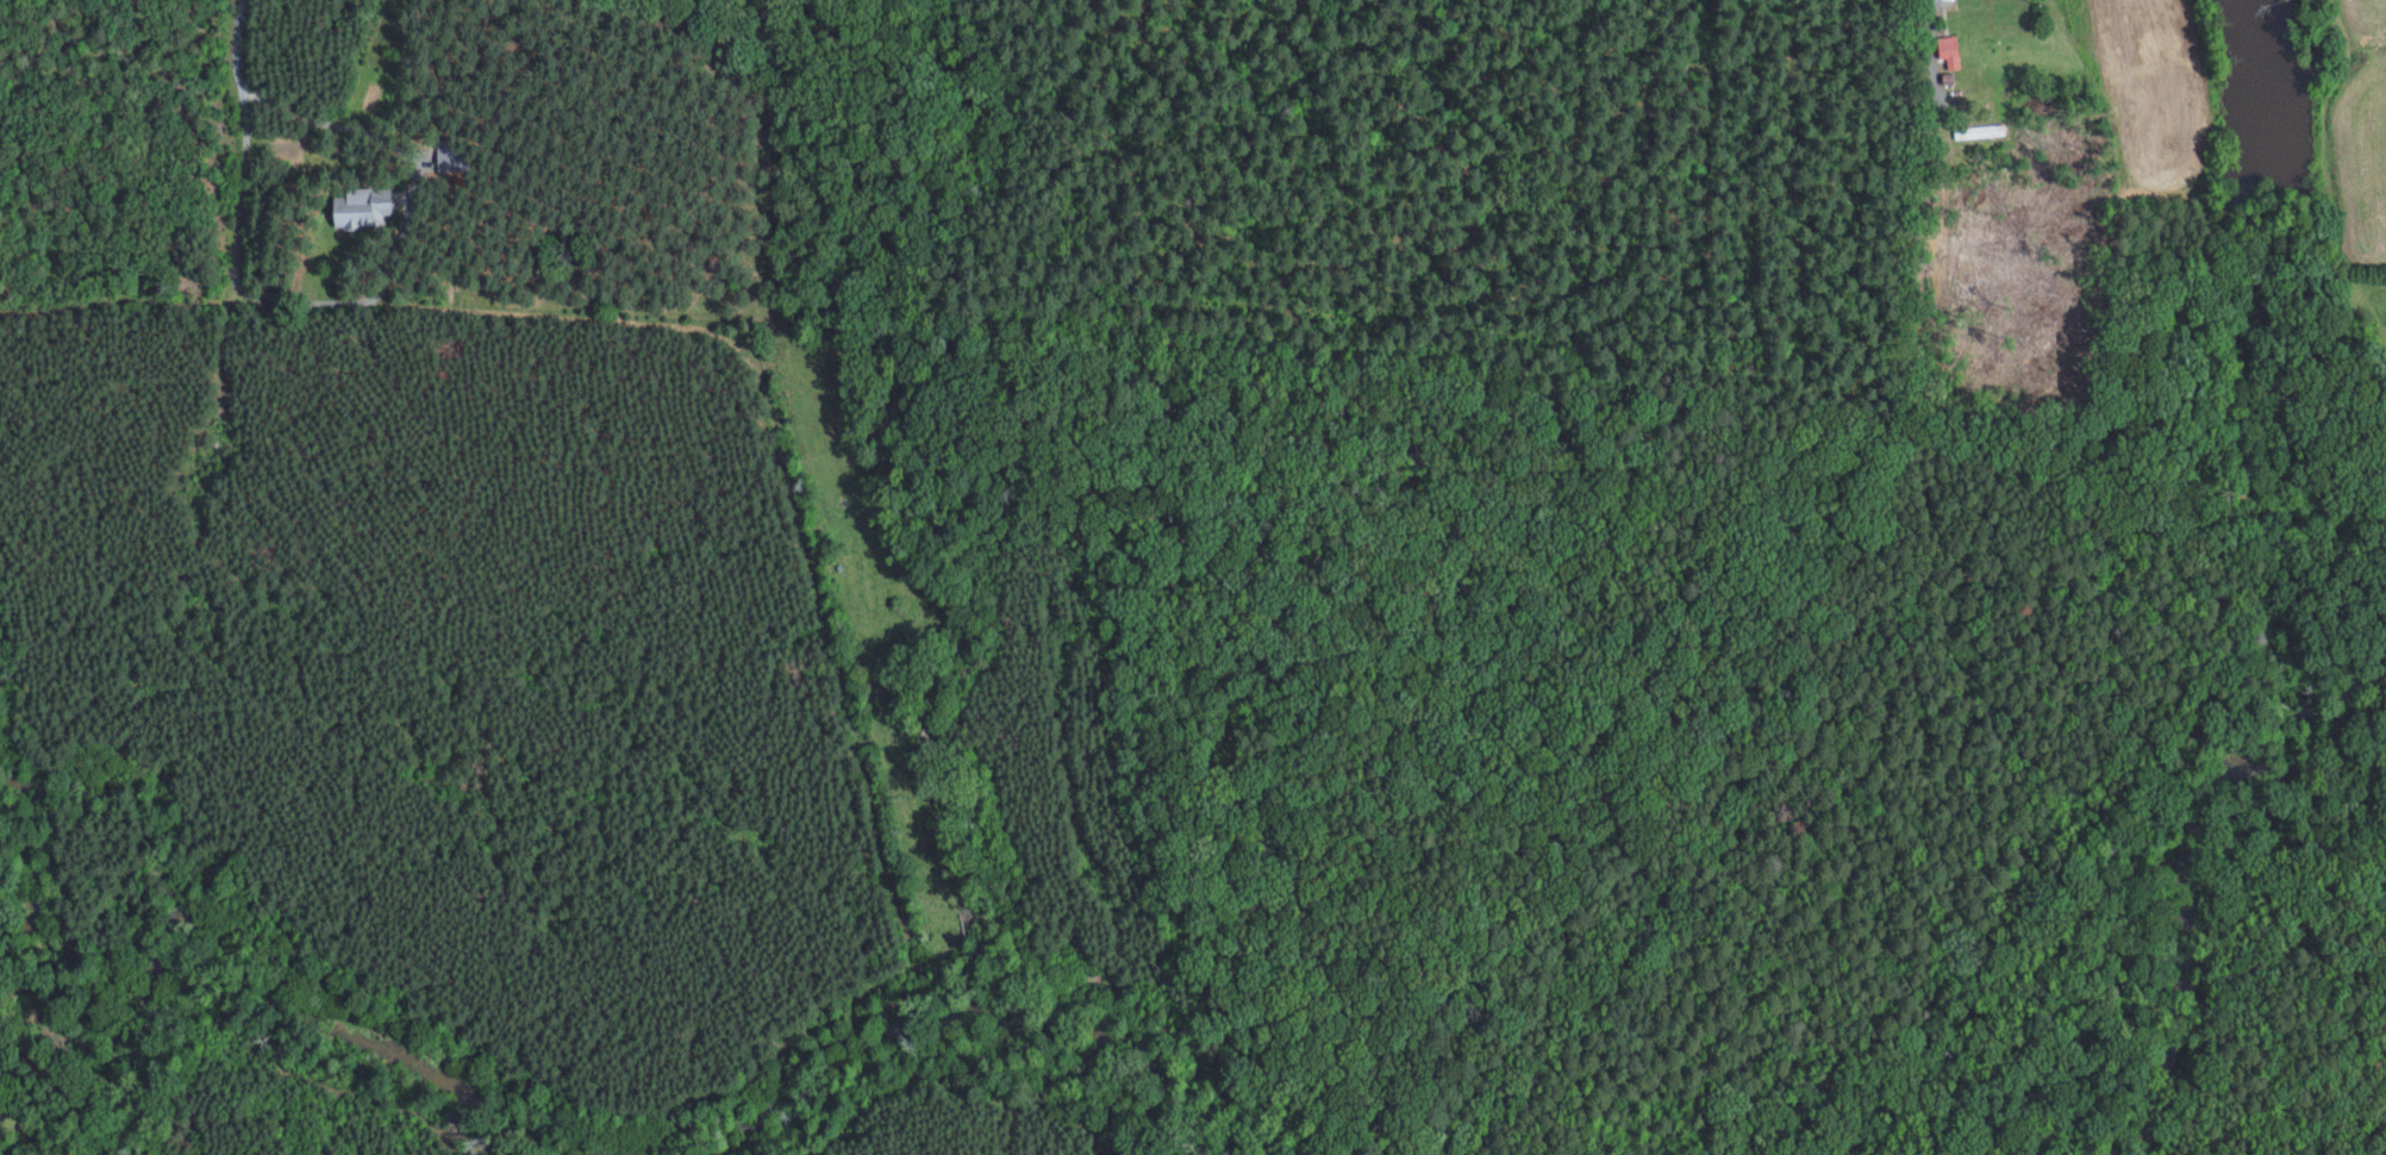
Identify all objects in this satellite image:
road: (236, 44)
building: (1949, 50)
building: (364, 210)
road: (374, 293)

